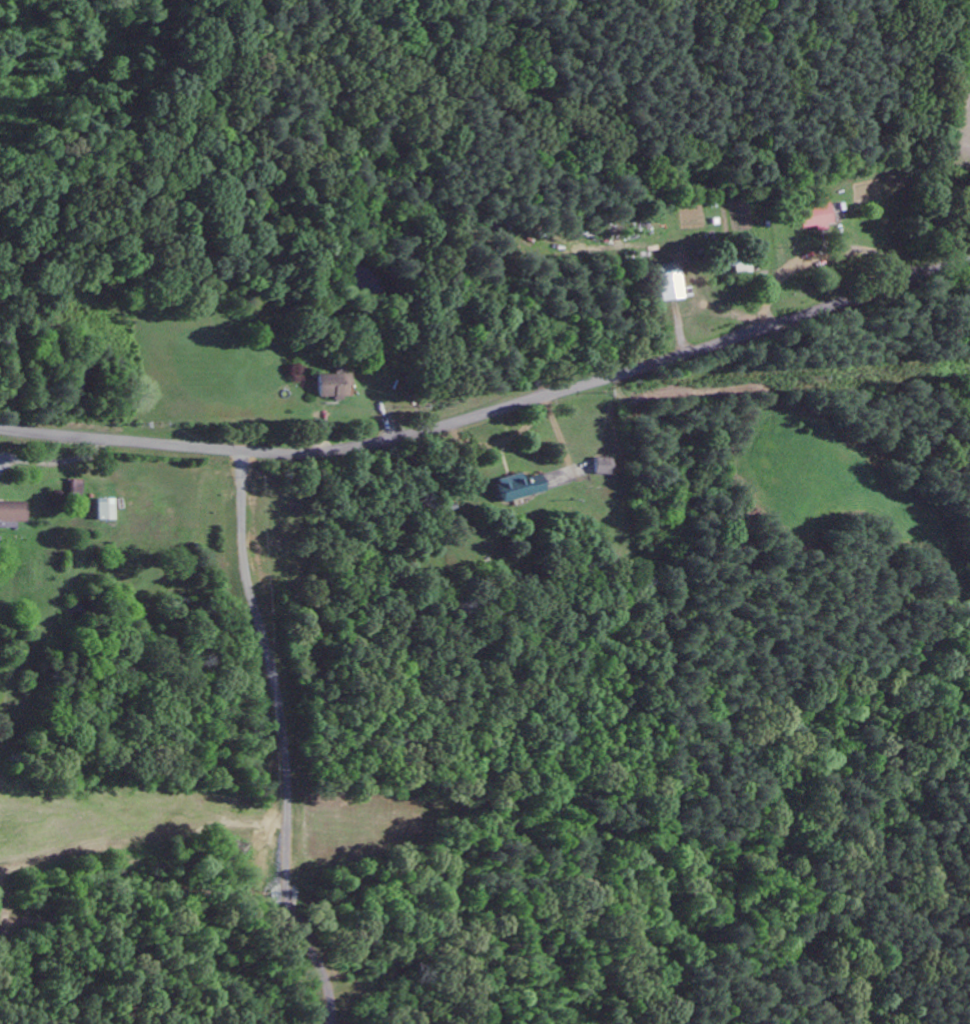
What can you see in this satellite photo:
building: (735, 264)
building: (667, 281)
building: (332, 385)
road: (493, 409)
building: (600, 466)
building: (516, 487)
building: (104, 509)
building: (12, 511)

